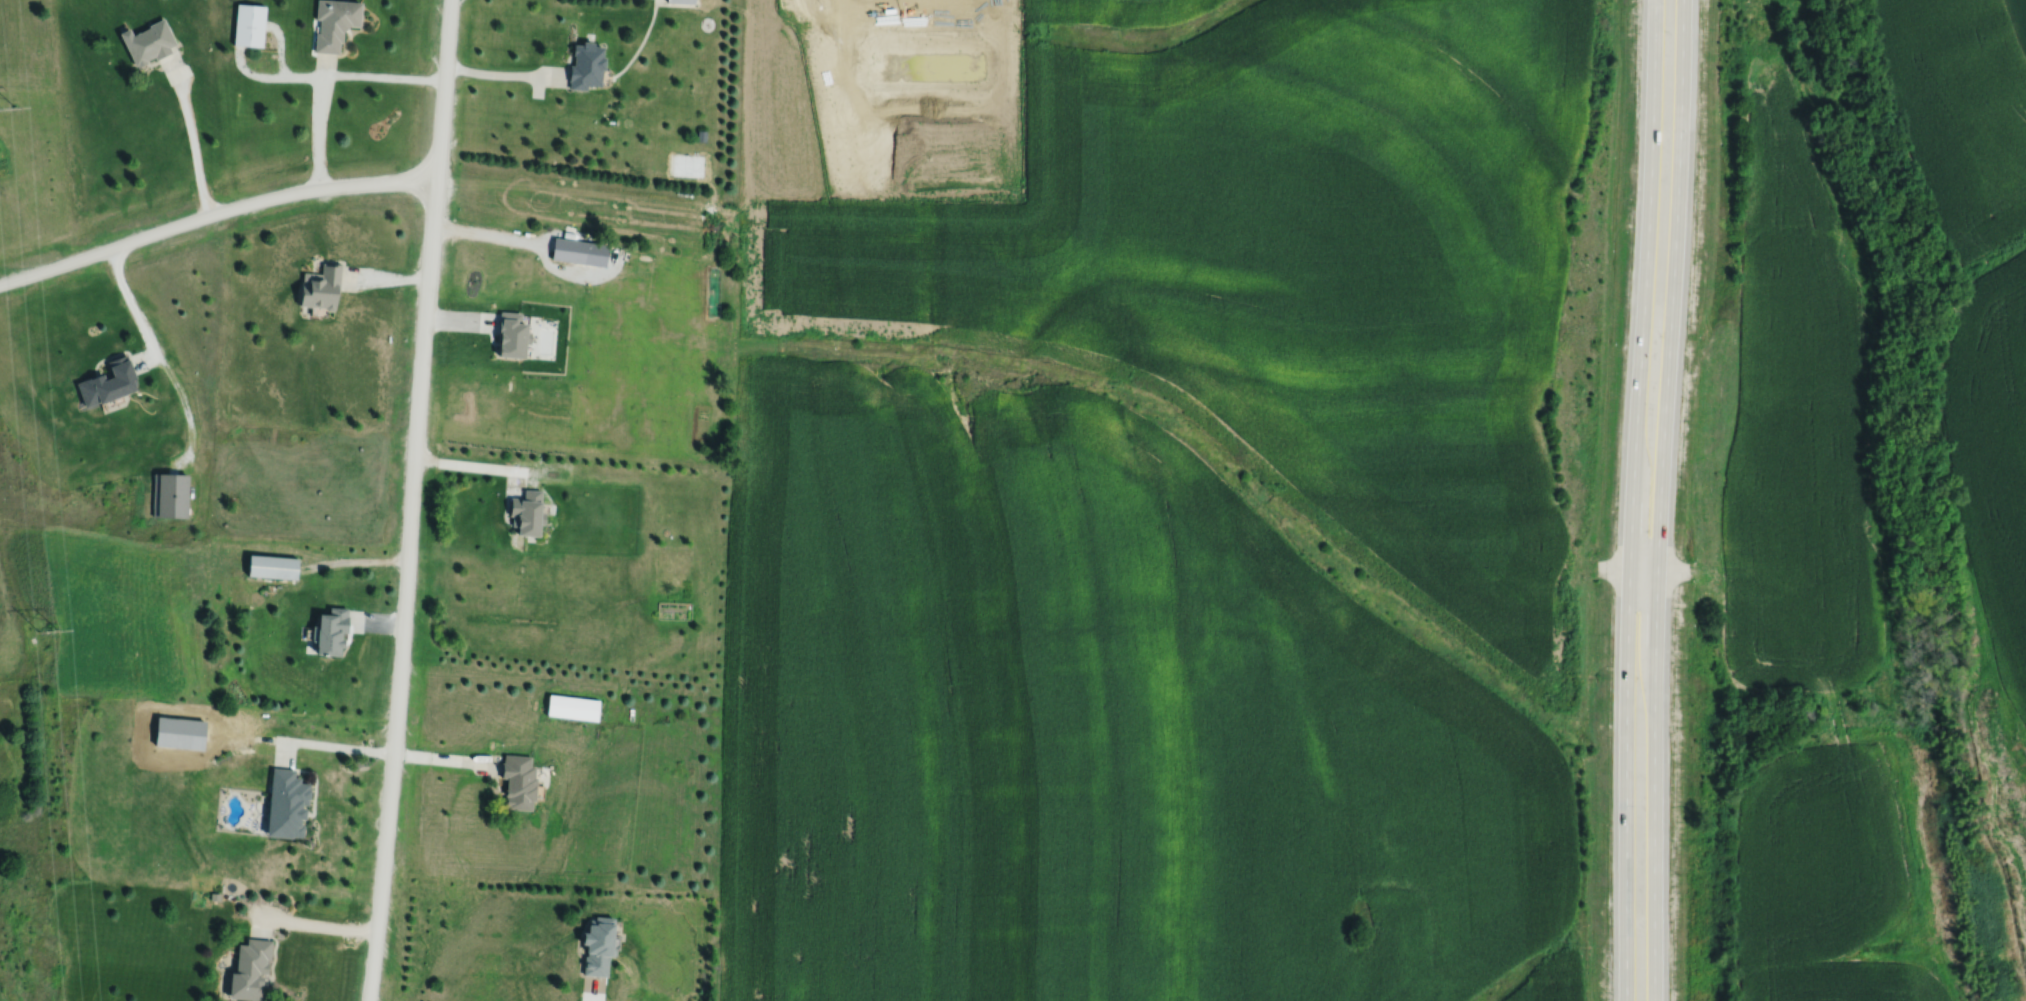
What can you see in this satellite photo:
building: (682, 0)
building: (335, 21)
building: (249, 24)
building: (148, 40)
road: (280, 46)
building: (586, 64)
road: (501, 73)
road: (331, 74)
power tower: (14, 104)
road: (318, 121)
building: (701, 135)
road: (191, 136)
road: (214, 213)
road: (490, 233)
building: (580, 251)
road: (387, 278)
building: (322, 286)
road: (460, 319)
building: (512, 335)
road: (160, 357)
road: (145, 358)
building: (107, 383)
road: (490, 467)
building: (169, 496)
road: (411, 500)
road: (1633, 500)
road: (1659, 500)
building: (527, 515)
road: (355, 560)
building: (272, 568)
road: (1644, 569)
road: (377, 621)
building: (329, 628)
power tower: (57, 636)
building: (572, 705)
road: (378, 750)
building: (517, 780)
building: (285, 803)
building: (214, 896)
road: (307, 922)
building: (595, 945)
building: (249, 970)
road: (592, 990)

